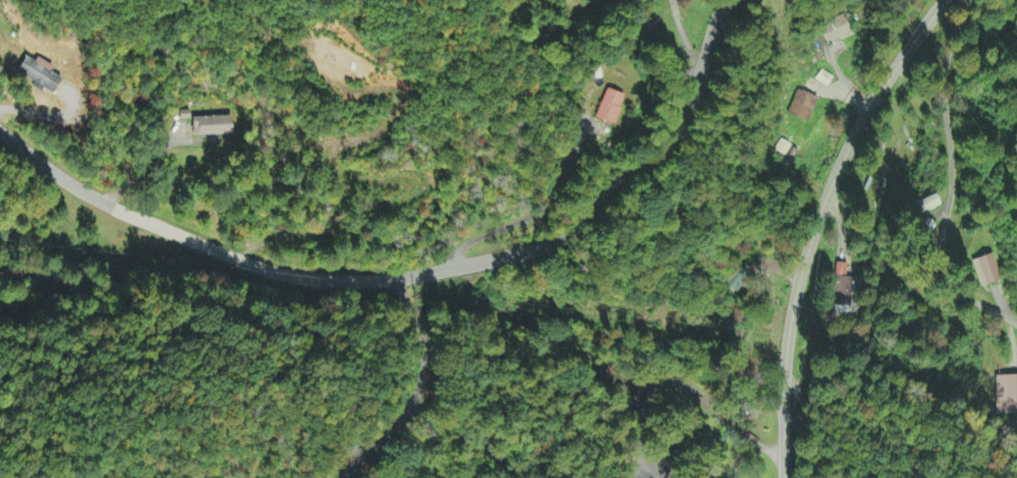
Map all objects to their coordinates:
building: (836, 31)
building: (39, 74)
building: (803, 107)
building: (610, 108)
building: (212, 127)
building: (784, 148)
road: (953, 183)
building: (929, 204)
road: (818, 222)
building: (987, 270)
road: (417, 275)
building: (843, 293)
road: (672, 380)
building: (1006, 395)
road: (808, 426)
road: (748, 437)
road: (771, 452)
road: (634, 459)
road: (653, 460)

